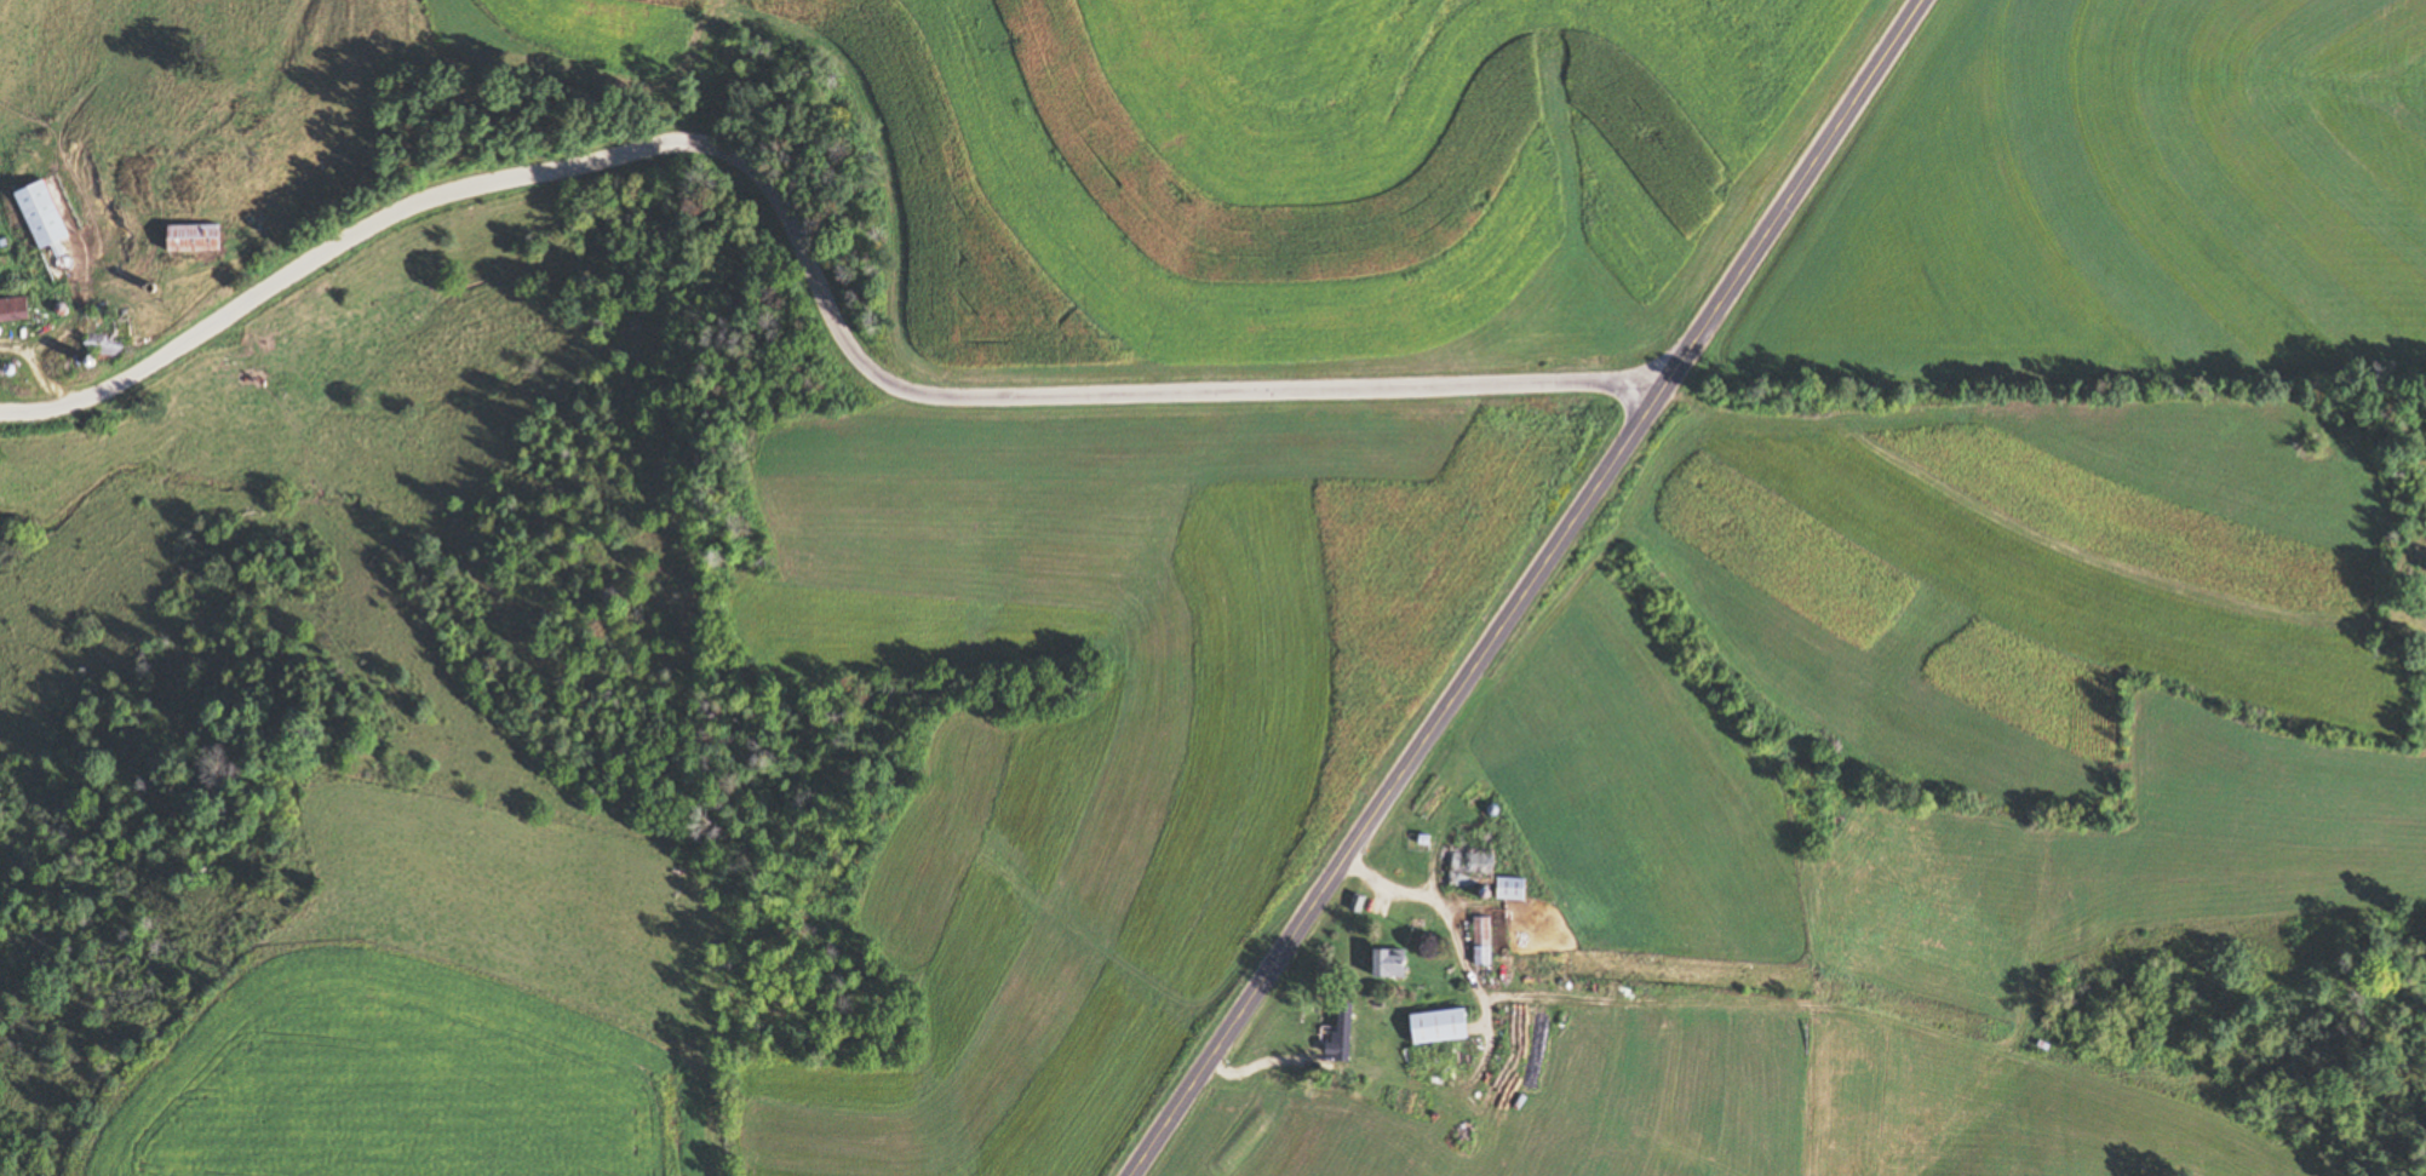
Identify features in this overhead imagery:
crop: (614, 13)
crop: (1315, 170)
crop: (2122, 201)
building: (45, 214)
building: (201, 239)
road: (802, 249)
building: (15, 310)
building: (115, 340)
crop: (2021, 576)
road: (1520, 586)
crop: (1114, 721)
crop: (1636, 793)
building: (1487, 872)
crop: (2132, 889)
road: (1446, 929)
building: (1484, 942)
building: (1393, 965)
crop: (1644, 969)
building: (1445, 1027)
crop: (1652, 1088)
crop: (1318, 1137)

